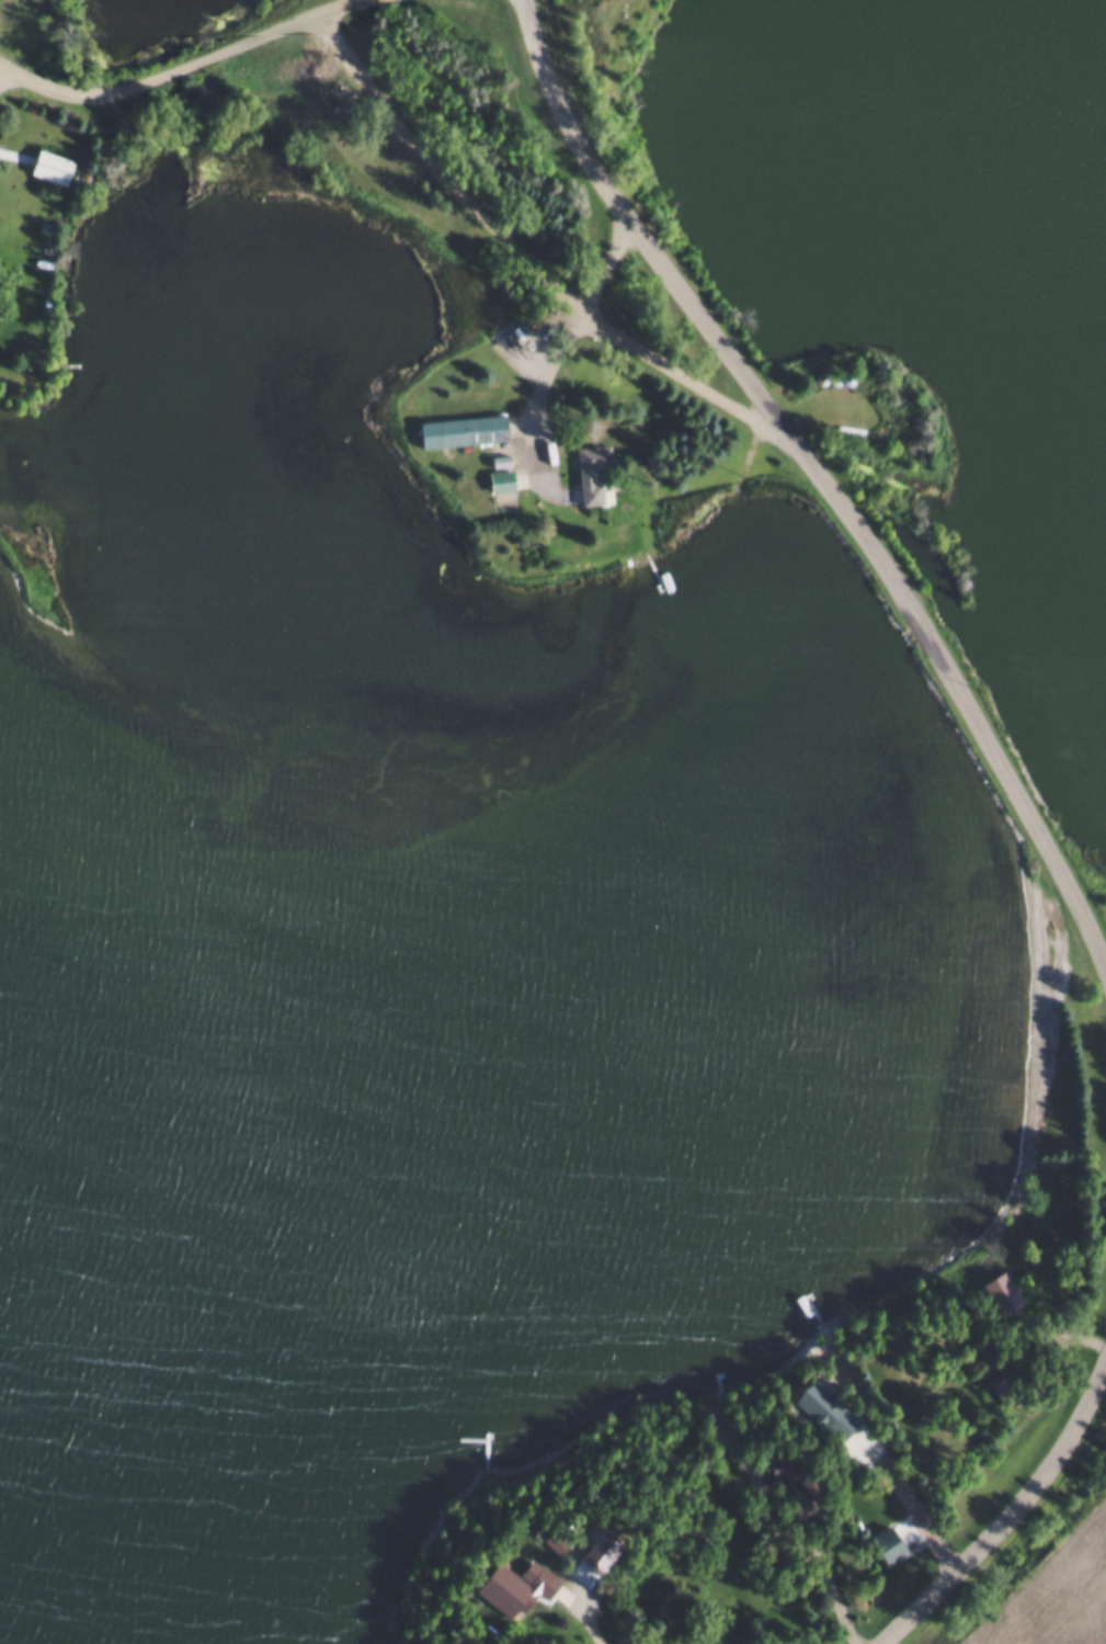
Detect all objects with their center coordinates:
road: (1, 68)
road: (185, 71)
building: (47, 163)
road: (531, 265)
road: (612, 270)
building: (817, 375)
silo: (817, 375)
building: (830, 375)
silo: (830, 375)
building: (843, 376)
silo: (843, 376)
road: (540, 397)
building: (458, 428)
building: (586, 472)
road: (820, 475)
building: (495, 477)
building: (1003, 1288)
building: (1008, 1387)
building: (825, 1407)
building: (784, 1461)
road: (788, 1512)
road: (1013, 1524)
building: (891, 1541)
building: (510, 1584)
road: (574, 1615)

